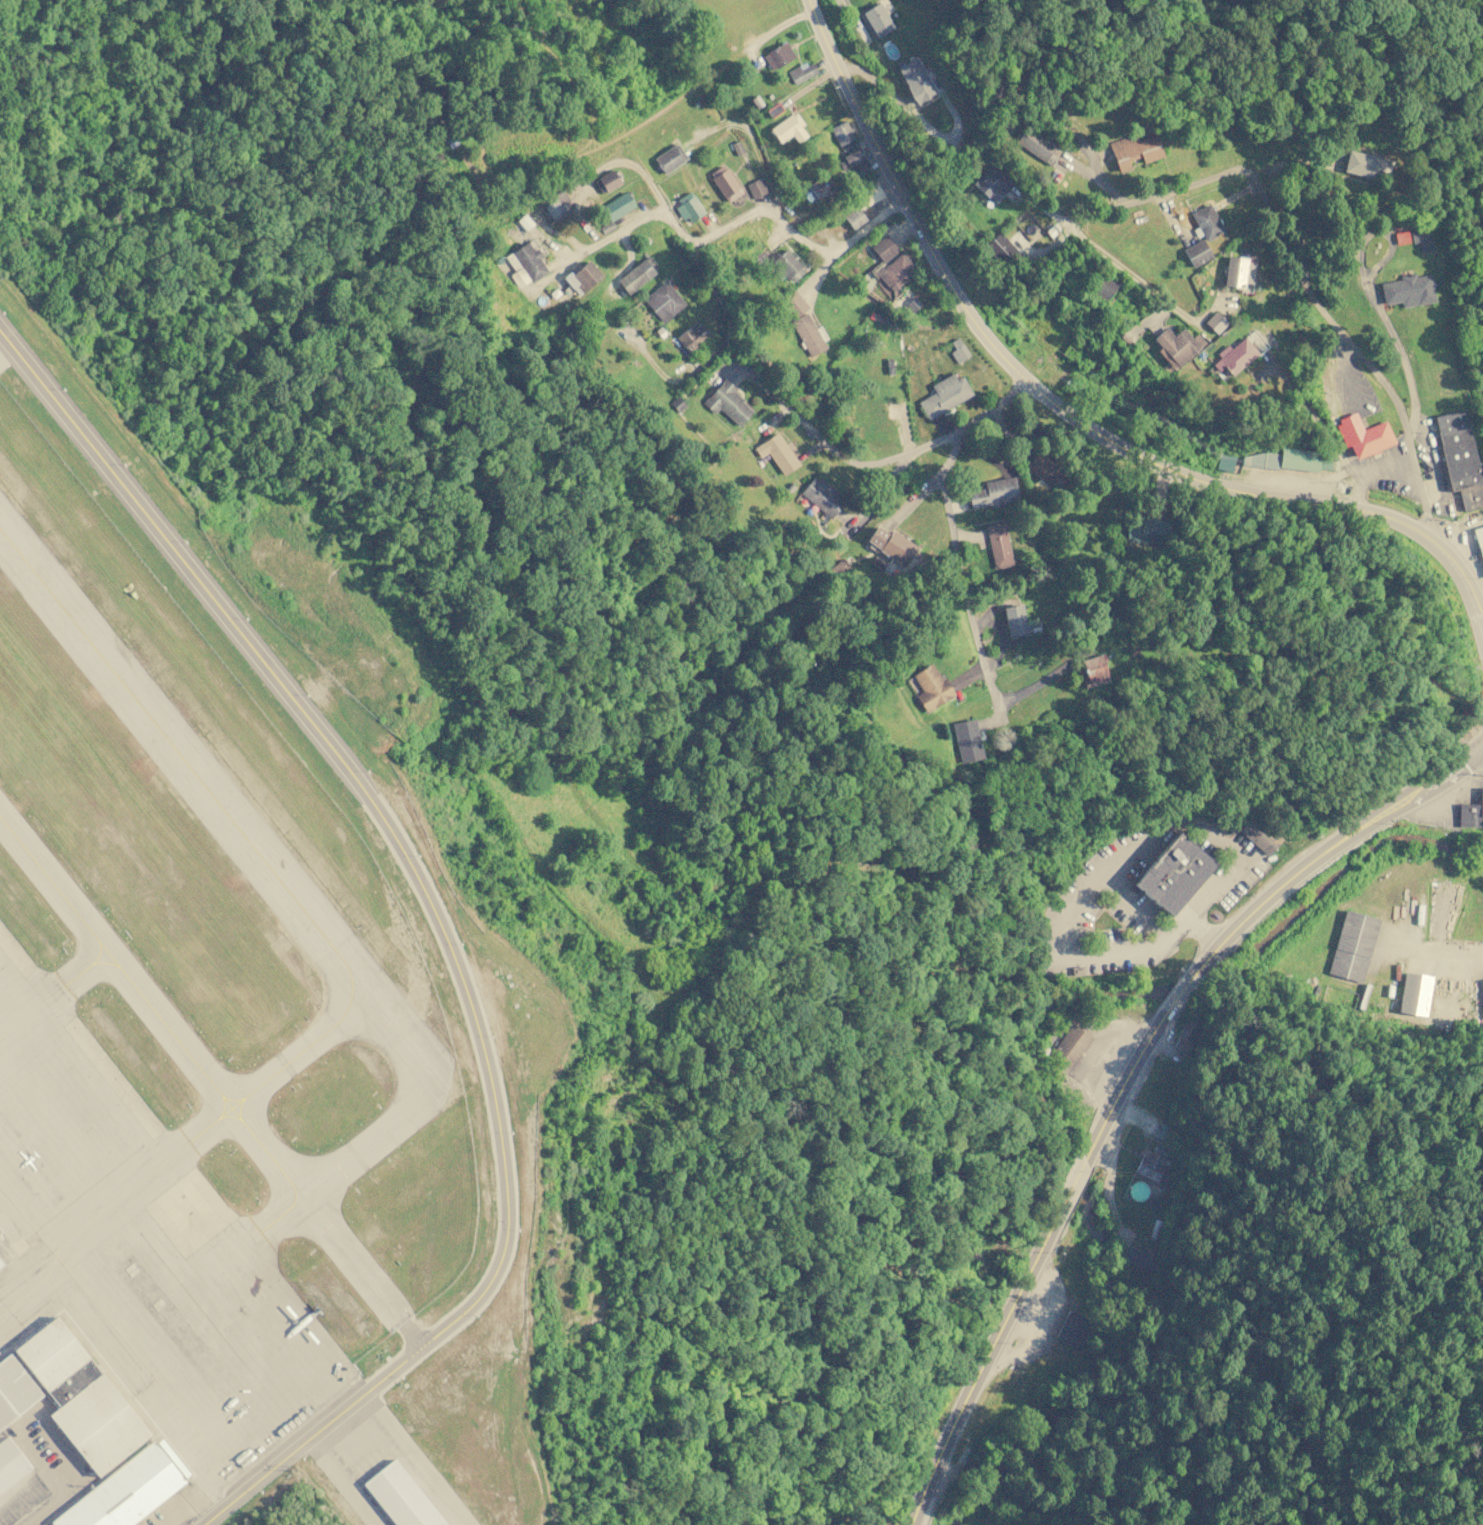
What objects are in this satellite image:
building: (875, 20)
building: (778, 56)
building: (800, 71)
building: (916, 80)
park: (1261, 87)
building: (769, 95)
building: (756, 101)
road: (649, 123)
building: (788, 128)
building: (842, 133)
road: (750, 139)
building: (1038, 145)
building: (737, 147)
building: (1134, 150)
building: (669, 158)
building: (854, 159)
building: (1367, 165)
building: (607, 181)
building: (992, 182)
building: (725, 183)
building: (756, 187)
building: (821, 187)
building: (617, 205)
building: (556, 206)
building: (688, 207)
building: (853, 217)
building: (525, 221)
building: (1206, 222)
road: (630, 224)
building: (607, 227)
road: (801, 229)
building: (1052, 229)
building: (1420, 236)
building: (884, 248)
building: (999, 248)
building: (1196, 253)
building: (499, 259)
building: (525, 264)
building: (785, 264)
building: (894, 270)
road: (1126, 270)
road: (1299, 270)
road: (820, 272)
building: (1236, 272)
building: (635, 276)
building: (579, 279)
building: (1103, 286)
building: (1408, 290)
road: (1371, 295)
building: (663, 301)
building: (793, 304)
building: (913, 304)
building: (878, 317)
building: (885, 320)
building: (1215, 322)
building: (809, 335)
building: (693, 336)
building: (1125, 338)
building: (1176, 345)
building: (958, 351)
road: (711, 354)
building: (1234, 356)
building: (889, 365)
building: (944, 395)
building: (727, 402)
building: (678, 404)
building: (869, 412)
road: (1072, 415)
building: (1362, 435)
building: (777, 452)
building: (1459, 457)
building: (1290, 460)
road: (877, 461)
building: (1224, 461)
building: (1043, 468)
building: (993, 492)
building: (822, 495)
building: (1146, 530)
building: (1479, 539)
building: (893, 545)
building: (999, 545)
road: (962, 572)
building: (1014, 620)
building: (1133, 649)
building: (1093, 669)
building: (931, 687)
building: (967, 740)
airport taxiway: (185, 762)
road: (1420, 790)
building: (1481, 802)
building: (1469, 815)
building: (1258, 836)
building: (1173, 873)
road: (1280, 888)
airport taxiway: (152, 909)
road: (441, 926)
building: (1352, 945)
road: (1436, 963)
building: (1482, 986)
road: (1182, 991)
building: (1415, 993)
airport taxiway: (151, 1008)
airport: (252, 1042)
building: (1069, 1045)
airport taxiway: (278, 1067)
road: (1118, 1094)
airport hangar: (373, 1099)
building: (373, 1099)
building: (1161, 1131)
building: (1155, 1162)
road: (1073, 1183)
river: (1066, 1188)
road: (480, 1207)
airport taxiway: (283, 1217)
airport hangar: (326, 1227)
building: (326, 1227)
road: (404, 1232)
building: (1139, 1258)
building: (0, 1263)
road: (430, 1264)
airport apron: (177, 1281)
road: (372, 1287)
road: (332, 1317)
road: (402, 1328)
building: (1072, 1330)
building: (40, 1343)
building: (55, 1362)
road: (983, 1362)
building: (70, 1380)
building: (14, 1391)
building: (82, 1407)
building: (109, 1439)
building: (10, 1464)
building: (125, 1492)
building: (399, 1498)

